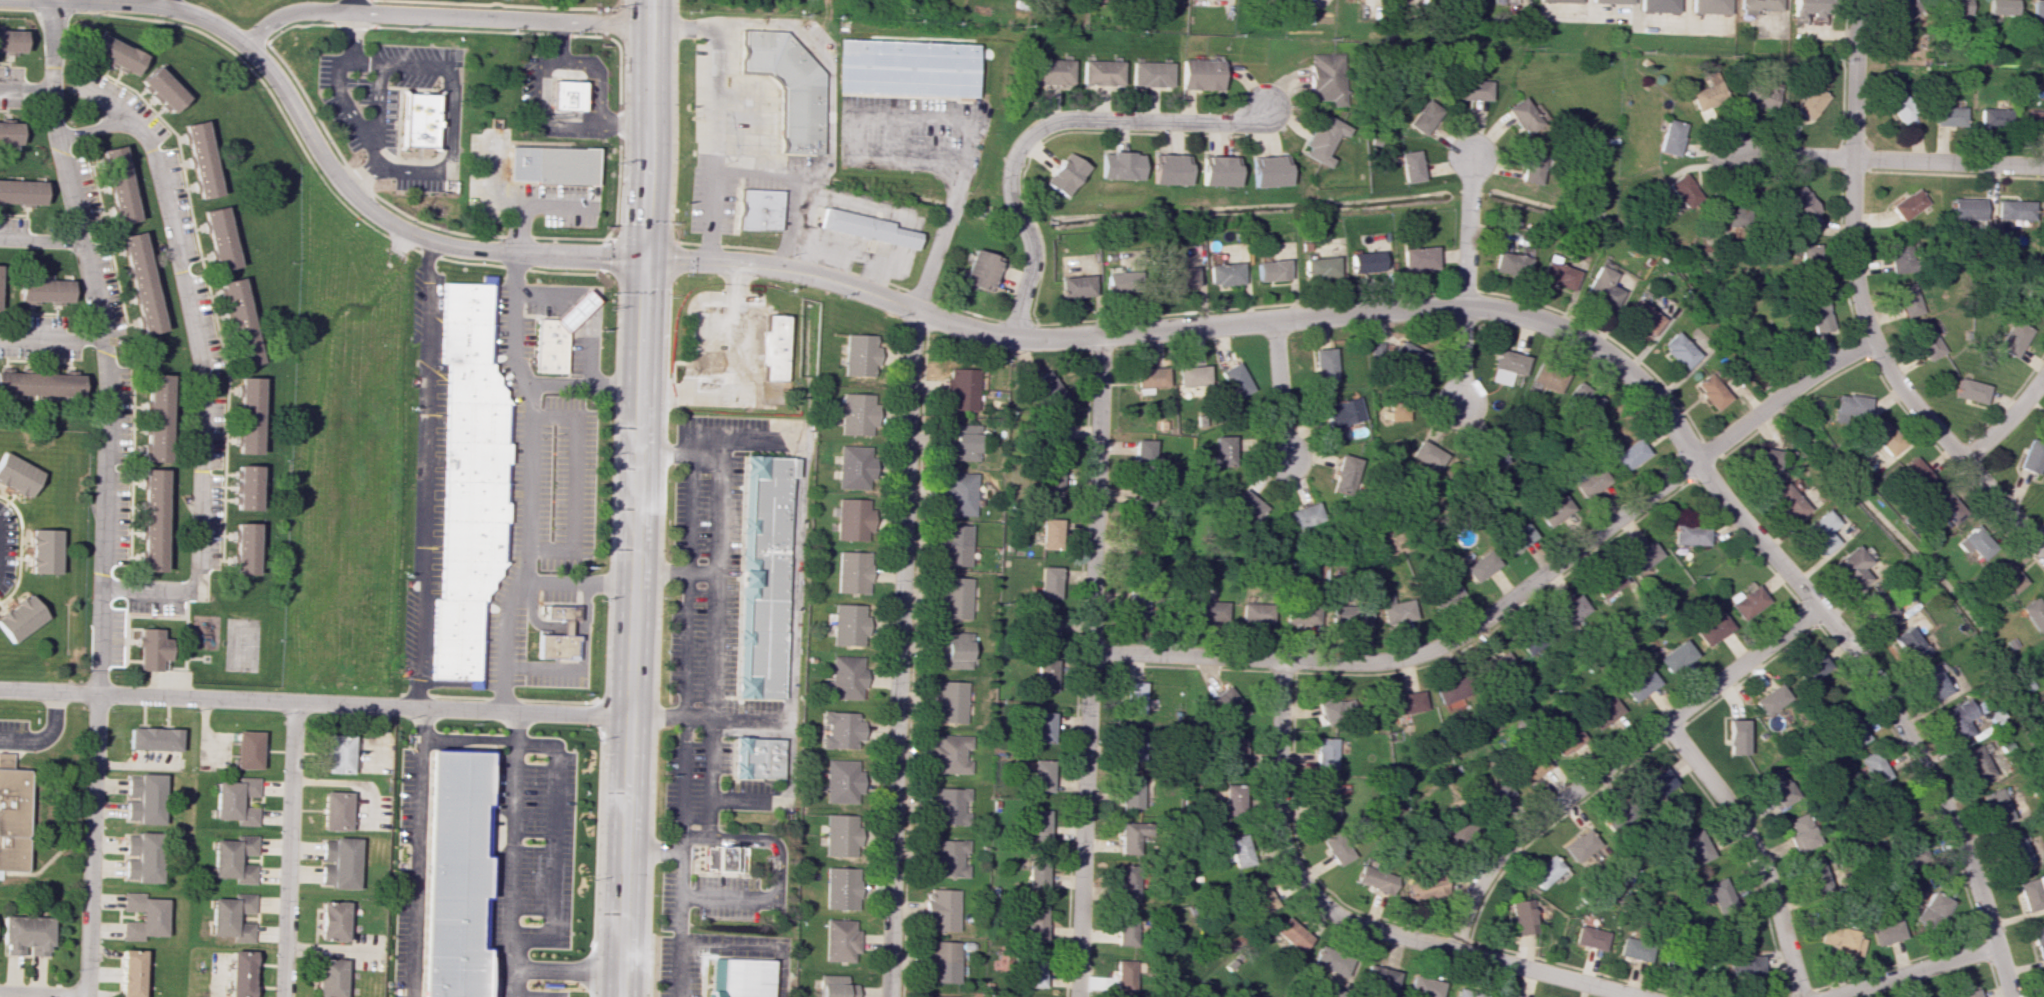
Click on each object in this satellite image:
building: (1500, 1)
building: (1558, 1)
building: (1608, 1)
road: (168, 3)
building: (1655, 5)
building: (1756, 5)
road: (351, 6)
building: (1707, 6)
building: (1806, 8)
building: (1955, 8)
building: (2000, 8)
building: (1902, 11)
building: (2037, 13)
road: (440, 16)
road: (556, 40)
building: (11, 41)
building: (755, 48)
building: (115, 53)
building: (787, 63)
road: (536, 65)
building: (903, 67)
building: (1052, 71)
building: (1101, 72)
building: (1151, 74)
building: (1201, 74)
building: (1327, 78)
road: (825, 85)
road: (26, 88)
building: (161, 89)
building: (1472, 90)
building: (566, 94)
building: (1707, 94)
road: (904, 96)
building: (1759, 96)
building: (1810, 102)
road: (376, 103)
building: (1900, 105)
road: (753, 113)
building: (1523, 114)
building: (797, 115)
building: (1948, 116)
road: (935, 117)
building: (1423, 117)
building: (1993, 117)
building: (418, 120)
building: (2034, 120)
road: (626, 122)
road: (1041, 127)
building: (9, 132)
parking lot: (903, 132)
building: (1670, 137)
building: (1322, 139)
parking lot: (731, 141)
road: (712, 145)
road: (1793, 154)
building: (200, 159)
road: (1948, 161)
building: (552, 165)
building: (1120, 165)
building: (1409, 166)
building: (1531, 167)
road: (750, 168)
building: (1169, 169)
building: (1219, 171)
building: (1269, 171)
road: (1852, 172)
road: (432, 173)
road: (335, 174)
building: (1064, 174)
building: (118, 184)
building: (1683, 190)
building: (21, 192)
building: (1799, 202)
building: (1907, 205)
building: (759, 208)
building: (1965, 209)
building: (2014, 209)
building: (2041, 210)
building: (861, 228)
road: (1466, 229)
building: (219, 238)
road: (40, 240)
building: (1897, 256)
building: (1418, 258)
traffic signals: (646, 259)
building: (1808, 260)
building: (1365, 262)
building: (1510, 263)
building: (1318, 267)
building: (979, 270)
building: (1270, 270)
building: (1223, 274)
building: (1557, 275)
building: (1179, 277)
building: (1118, 281)
building: (141, 282)
building: (1075, 286)
building: (1600, 287)
building: (44, 290)
road: (545, 294)
building: (1907, 299)
building: (468, 302)
road: (581, 308)
building: (579, 310)
gas station: (579, 310)
road: (1509, 311)
building: (1818, 316)
building: (1642, 317)
building: (239, 321)
road: (49, 338)
building: (2012, 338)
building: (467, 342)
building: (1927, 342)
road: (101, 345)
building: (553, 347)
building: (771, 347)
building: (1377, 347)
road: (590, 350)
building: (1677, 350)
building: (1408, 355)
road: (1463, 356)
road: (198, 361)
building: (1324, 365)
building: (1507, 366)
road: (522, 373)
road: (733, 373)
building: (1192, 375)
building: (1150, 377)
building: (1235, 380)
building: (1545, 380)
building: (40, 384)
building: (476, 384)
building: (961, 389)
building: (1048, 389)
road: (1281, 389)
building: (1970, 390)
building: (1710, 391)
building: (1583, 399)
building: (1850, 405)
building: (1398, 408)
building: (1343, 413)
building: (857, 414)
building: (248, 415)
building: (157, 418)
road: (2007, 421)
building: (477, 422)
building: (1054, 437)
building: (1884, 437)
building: (961, 442)
road: (1953, 450)
building: (1221, 451)
building: (1427, 455)
building: (1629, 455)
building: (2031, 455)
building: (1492, 458)
building: (477, 461)
building: (1767, 465)
building: (853, 466)
road: (426, 473)
building: (1915, 473)
road: (720, 474)
building: (1344, 474)
building: (18, 475)
building: (1590, 480)
road: (574, 481)
building: (245, 487)
building: (1051, 487)
building: (958, 494)
road: (639, 498)
building: (476, 501)
building: (2043, 501)
building: (1787, 503)
building: (1247, 505)
building: (764, 506)
building: (1946, 507)
building: (1140, 509)
building: (1555, 510)
building: (1304, 515)
building: (852, 518)
building: (152, 520)
building: (1820, 532)
building: (1050, 533)
building: (1690, 534)
building: (1517, 537)
building: (474, 541)
building: (1974, 544)
building: (953, 545)
building: (243, 549)
road: (528, 549)
building: (44, 551)
building: (1642, 556)
parking lot: (702, 564)
building: (1480, 566)
building: (1851, 568)
building: (852, 572)
building: (2006, 576)
building: (762, 577)
building: (470, 579)
building: (1048, 582)
building: (1610, 582)
road: (577, 583)
road: (686, 587)
building: (1443, 591)
building: (953, 597)
road: (1513, 597)
building: (1747, 602)
building: (1136, 606)
parking lot: (155, 607)
building: (1877, 607)
building: (1395, 610)
building: (561, 611)
building: (1209, 611)
building: (1571, 611)
building: (761, 613)
building: (1255, 613)
building: (2032, 614)
road: (532, 615)
building: (1358, 615)
building: (20, 617)
building: (458, 619)
building: (849, 624)
road: (566, 627)
road: (578, 628)
building: (1712, 628)
building: (1047, 629)
road: (131, 630)
road: (127, 631)
parking lot: (116, 638)
building: (1532, 638)
road: (132, 643)
park: (190, 644)
building: (2043, 644)
park: (241, 645)
road: (898, 645)
building: (1908, 645)
road: (186, 647)
building: (558, 648)
road: (716, 648)
building: (153, 649)
building: (953, 649)
building: (1675, 656)
road: (196, 658)
building: (457, 659)
building: (759, 662)
road: (583, 663)
building: (1500, 664)
road: (1088, 665)
building: (1812, 667)
building: (1044, 674)
building: (846, 677)
parking lot: (169, 680)
building: (1932, 681)
building: (1639, 684)
road: (49, 693)
building: (1449, 695)
building: (1133, 697)
road: (187, 698)
building: (1770, 699)
building: (948, 701)
building: (1406, 702)
building: (1227, 705)
road: (454, 710)
building: (1334, 710)
building: (1602, 712)
building: (1993, 716)
building: (1958, 719)
building: (1041, 727)
road: (683, 728)
road: (707, 729)
building: (842, 729)
building: (1851, 729)
road: (42, 736)
building: (1735, 737)
building: (153, 739)
building: (1566, 739)
road: (483, 741)
building: (1133, 746)
building: (246, 749)
building: (337, 753)
building: (949, 753)
building: (1232, 753)
building: (1324, 753)
building: (752, 760)
road: (1611, 761)
building: (1976, 763)
building: (1529, 767)
building: (1875, 767)
building: (1040, 775)
building: (842, 781)
building: (1656, 784)
building: (1777, 788)
road: (679, 790)
building: (1129, 792)
road: (733, 795)
building: (1493, 795)
building: (144, 798)
building: (1232, 799)
building: (235, 800)
building: (1324, 800)
building: (949, 805)
building: (1997, 806)
building: (1896, 809)
building: (335, 811)
building: (12, 815)
building: (1037, 825)
road: (691, 830)
building: (1800, 832)
building: (1449, 833)
road: (764, 835)
building: (840, 835)
road: (552, 838)
building: (1128, 838)
building: (1577, 845)
road: (91, 846)
building: (1697, 846)
building: (1335, 848)
road: (1754, 848)
building: (2013, 848)
road: (288, 849)
building: (1236, 851)
road: (418, 852)
road: (512, 854)
building: (1907, 855)
building: (141, 857)
building: (947, 857)
building: (233, 858)
building: (720, 858)
building: (338, 862)
building: (1542, 871)
building: (1034, 873)
building: (1815, 874)
building: (458, 875)
building: (1374, 879)
building: (1125, 884)
building: (1423, 887)
building: (840, 888)
building: (2029, 892)
building: (1720, 895)
road: (674, 896)
building: (1259, 897)
building: (939, 909)
building: (1933, 910)
building: (142, 916)
building: (1520, 916)
building: (231, 917)
building: (331, 920)
road: (1349, 920)
building: (1032, 922)
building: (1124, 930)
building: (1886, 932)
building: (1290, 934)
building: (26, 935)
building: (1589, 937)
road: (749, 940)
building: (838, 940)
building: (2038, 942)
building: (1632, 950)
building: (1682, 960)
building: (939, 961)
building: (1329, 961)
building: (1745, 965)
road: (567, 967)
building: (1029, 970)
road: (1914, 972)
building: (129, 973)
building: (239, 973)
building: (1123, 975)
building: (329, 977)
building: (736, 978)
building: (1379, 979)
road: (509, 981)
building: (832, 986)
building: (1422, 987)
road: (884, 988)
building: (1329, 992)
road: (42, 994)
building: (1466, 994)
building: (1967, 994)
building: (931, 996)

